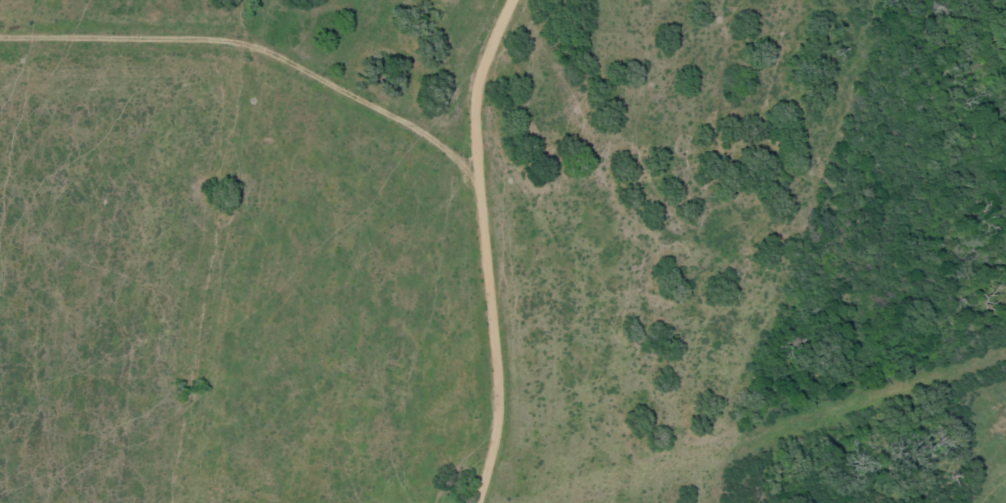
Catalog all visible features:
road: (482, 250)

